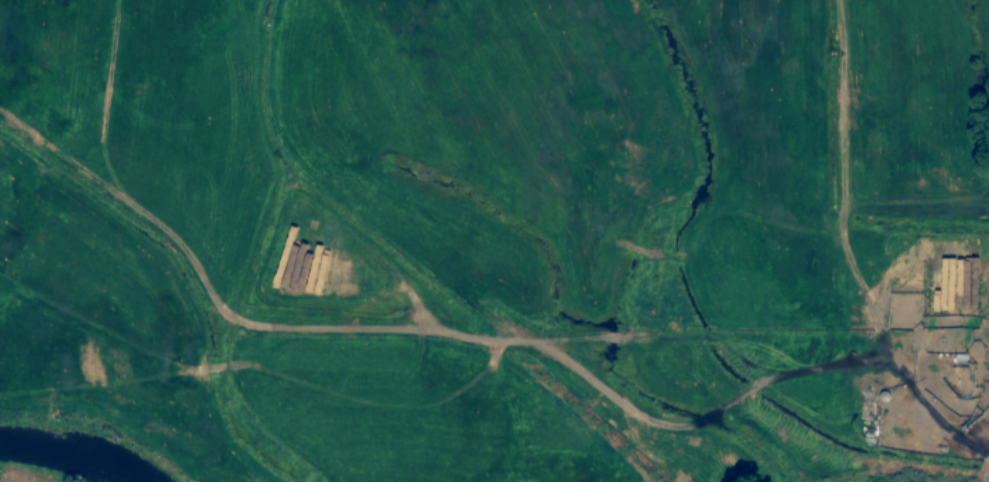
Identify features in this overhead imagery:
building: (301, 265)
river: (72, 455)

